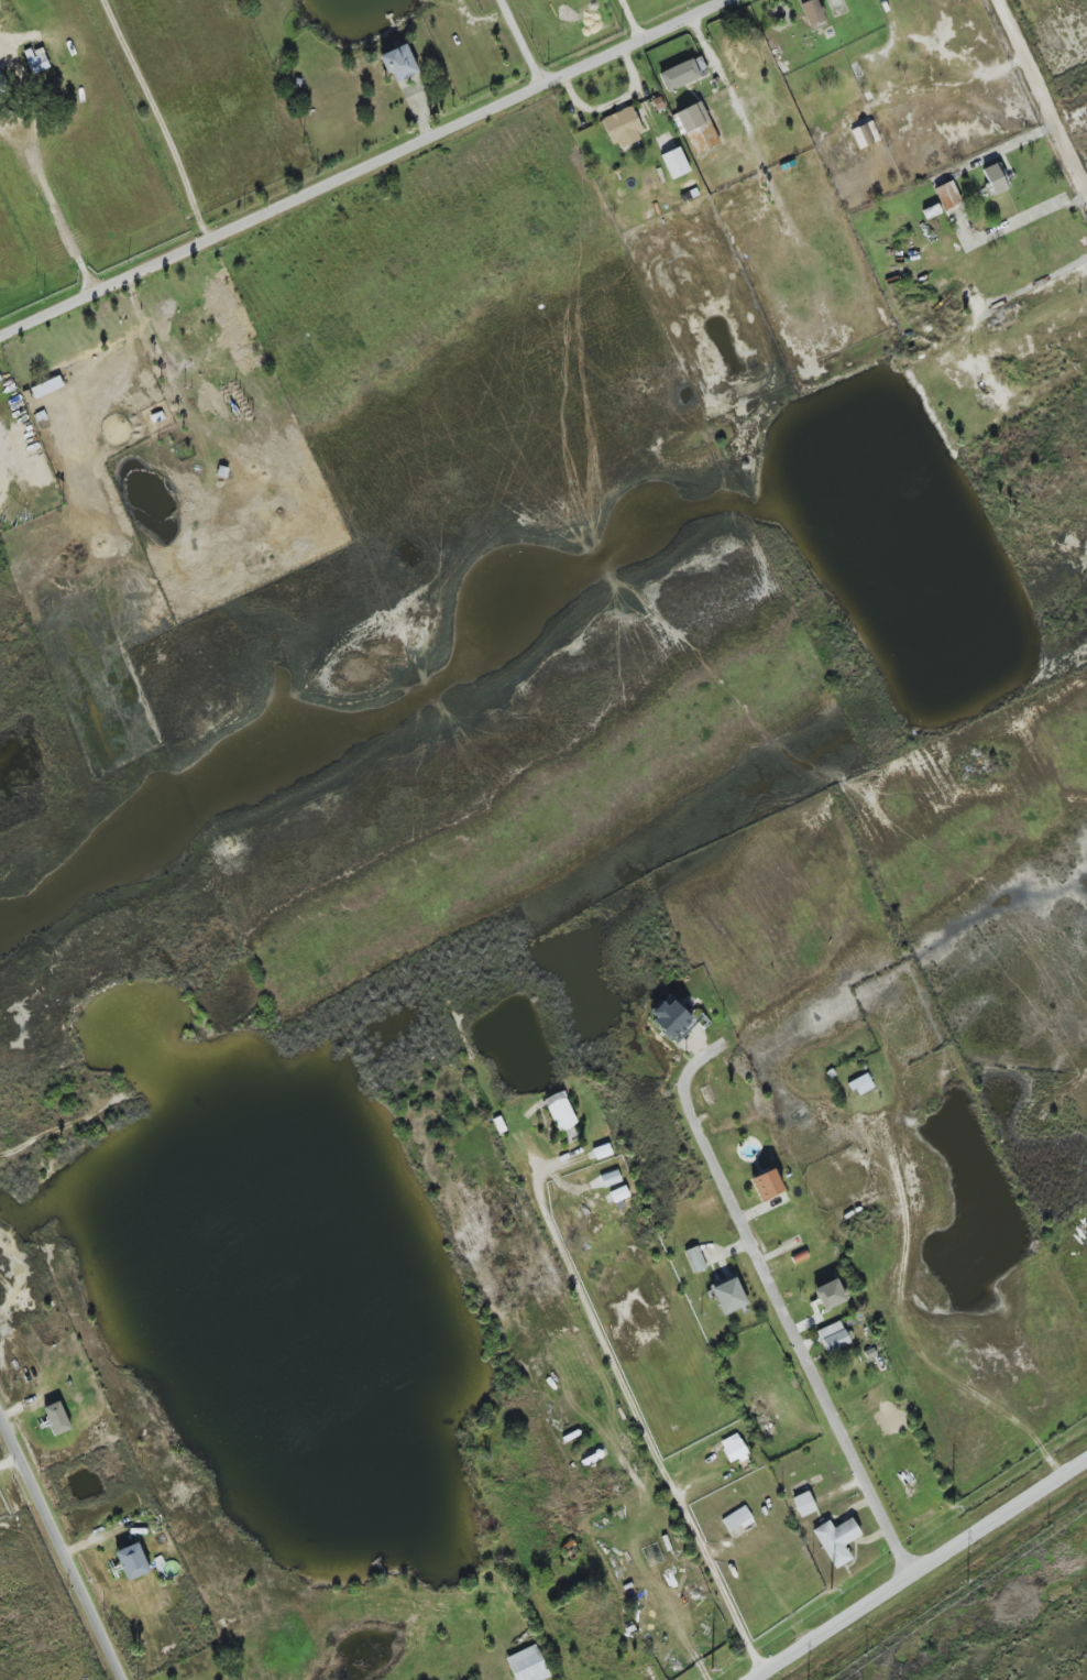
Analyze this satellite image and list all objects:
building: (812, 12)
road: (629, 20)
road: (521, 42)
building: (36, 62)
building: (398, 63)
building: (679, 76)
road: (1043, 97)
road: (166, 116)
building: (623, 128)
building: (698, 128)
building: (865, 134)
building: (674, 163)
road: (363, 167)
building: (995, 178)
building: (947, 196)
road: (54, 205)
building: (931, 211)
building: (46, 388)
building: (670, 1018)
building: (860, 1084)
building: (560, 1111)
building: (602, 1152)
building: (610, 1178)
building: (766, 1185)
building: (619, 1193)
building: (695, 1259)
building: (830, 1294)
building: (728, 1296)
road: (781, 1307)
road: (908, 1331)
building: (833, 1337)
building: (56, 1418)
road: (646, 1428)
building: (733, 1447)
building: (803, 1504)
building: (736, 1519)
building: (836, 1540)
road: (62, 1547)
building: (131, 1561)
road: (923, 1567)
building: (527, 1665)

